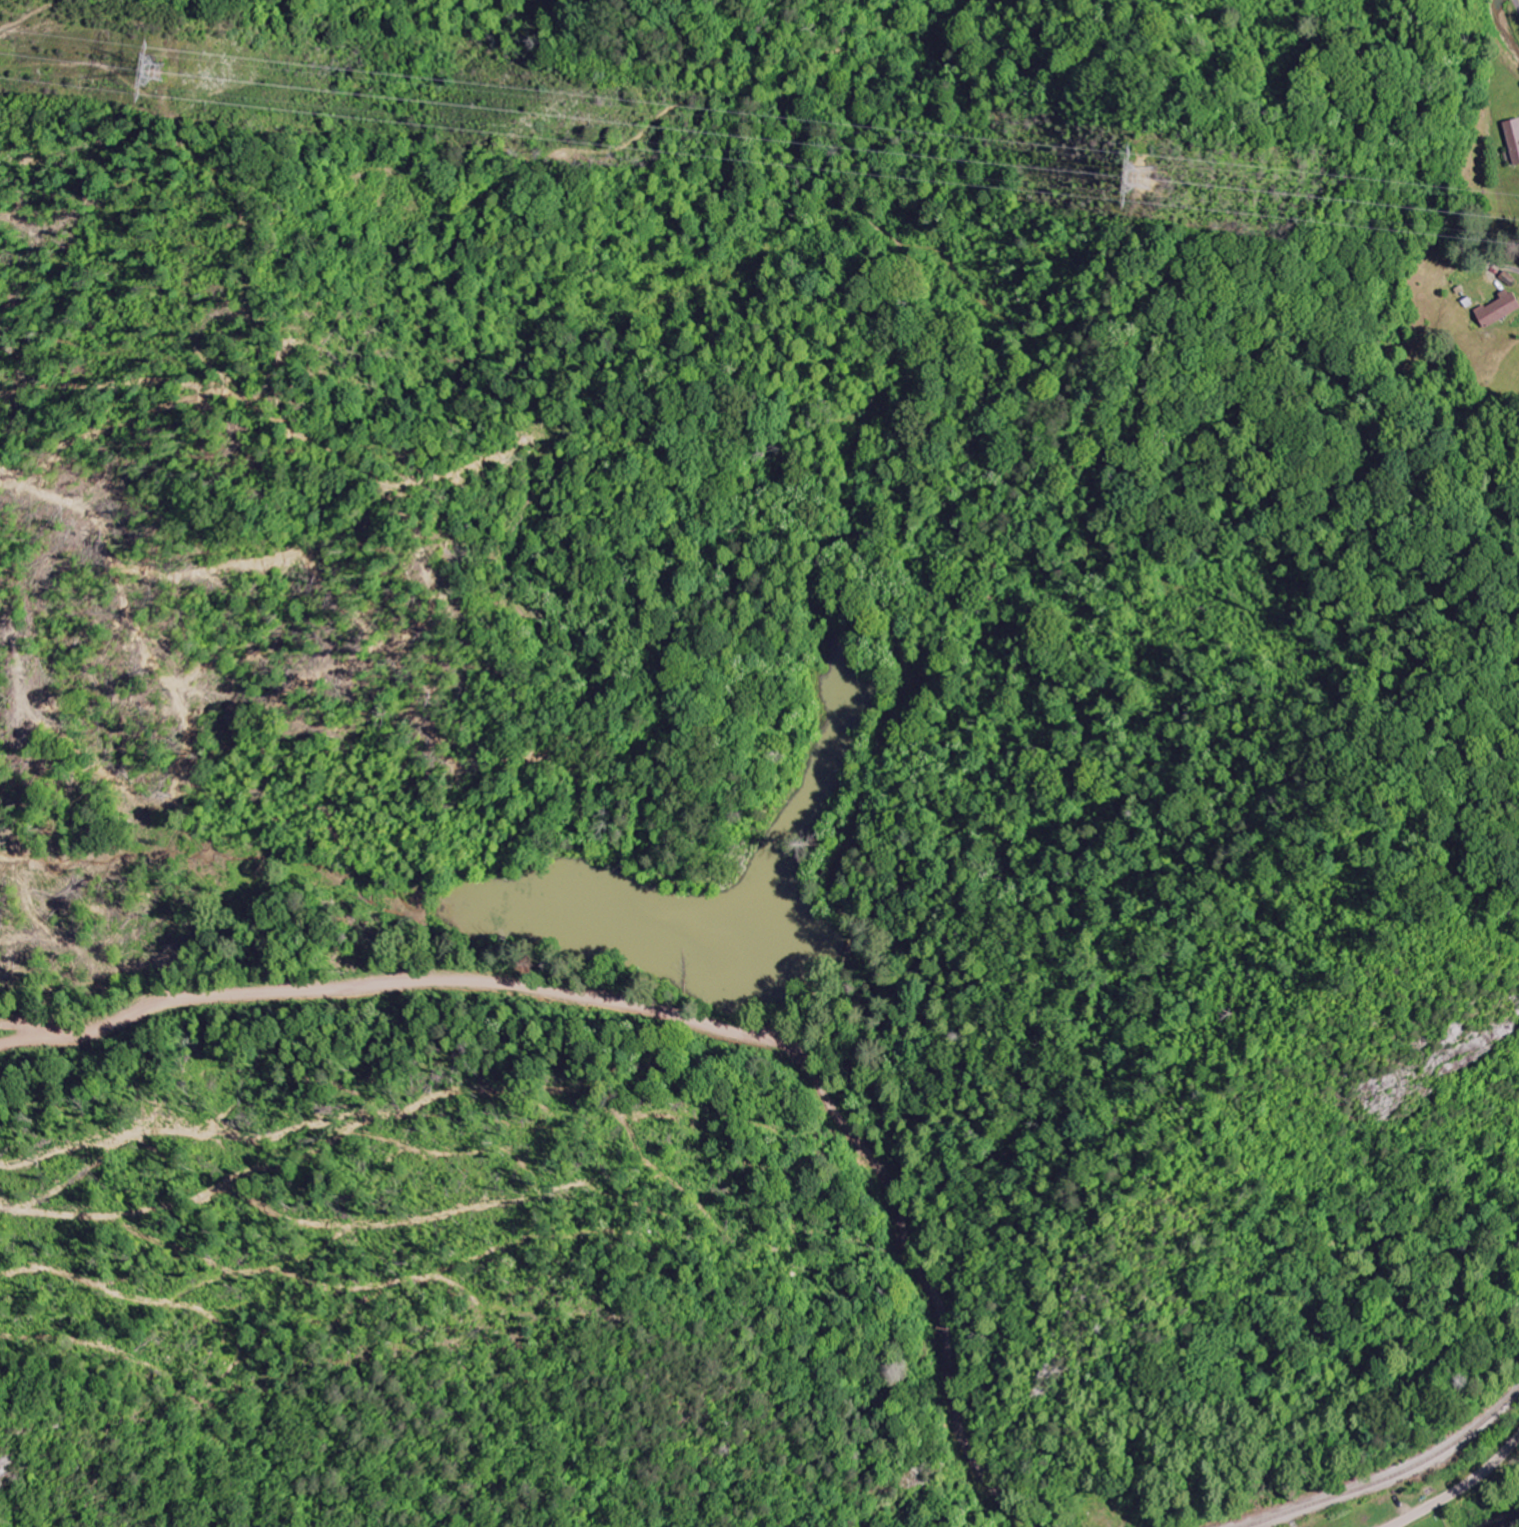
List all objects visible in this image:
road: (1518, 0)
power tower: (151, 67)
building: (1513, 139)
power tower: (1125, 167)
building: (1498, 310)
road: (668, 988)
railway: (1388, 1475)
road: (1459, 1489)

